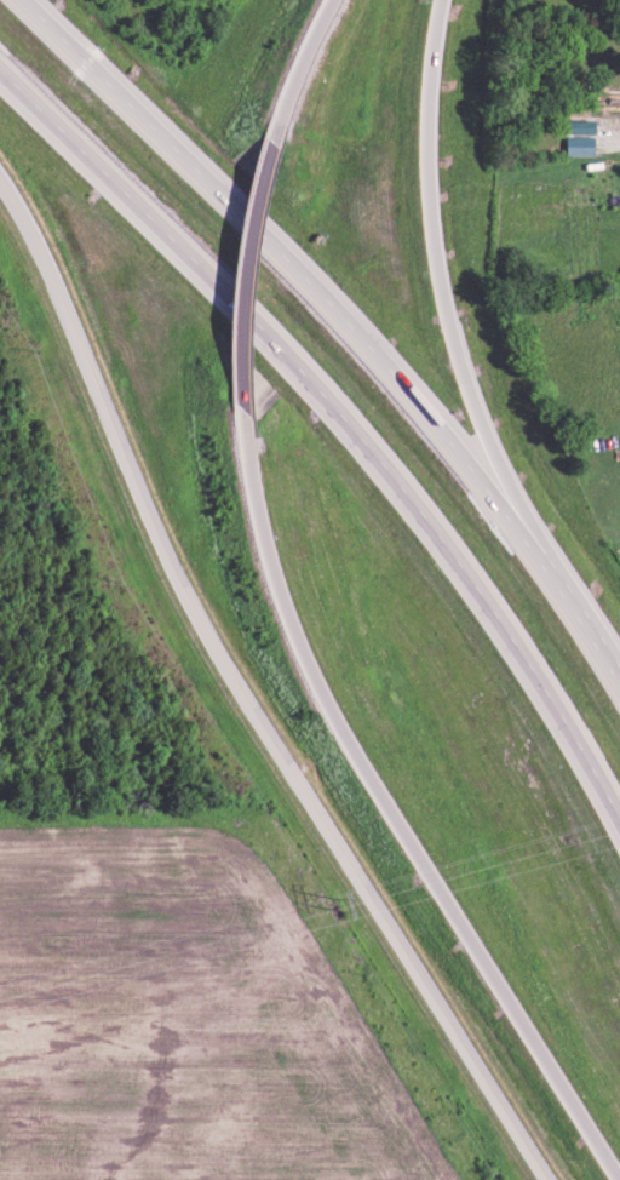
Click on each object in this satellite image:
road: (295, 68)
building: (573, 124)
building: (575, 142)
road: (240, 271)
road: (348, 320)
road: (454, 326)
road: (345, 417)
road: (243, 697)
road: (385, 809)
power tower: (343, 905)

